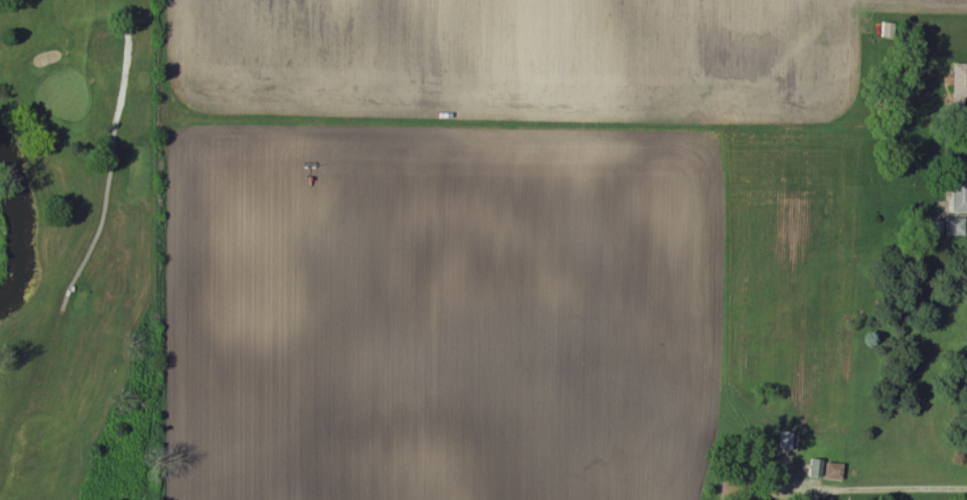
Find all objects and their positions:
building: (959, 87)
building: (958, 195)
building: (819, 470)
building: (833, 472)
road: (881, 487)

